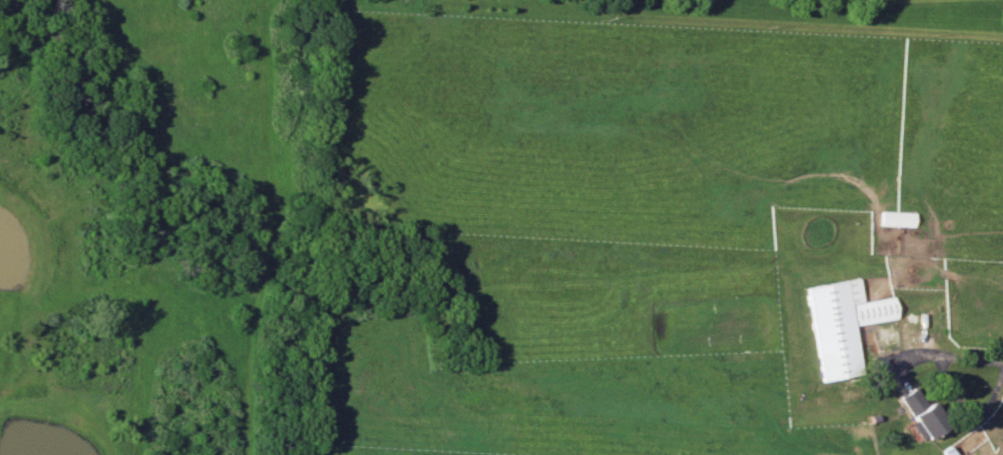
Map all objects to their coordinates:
building: (896, 220)
building: (841, 327)
road: (950, 384)
building: (921, 411)

